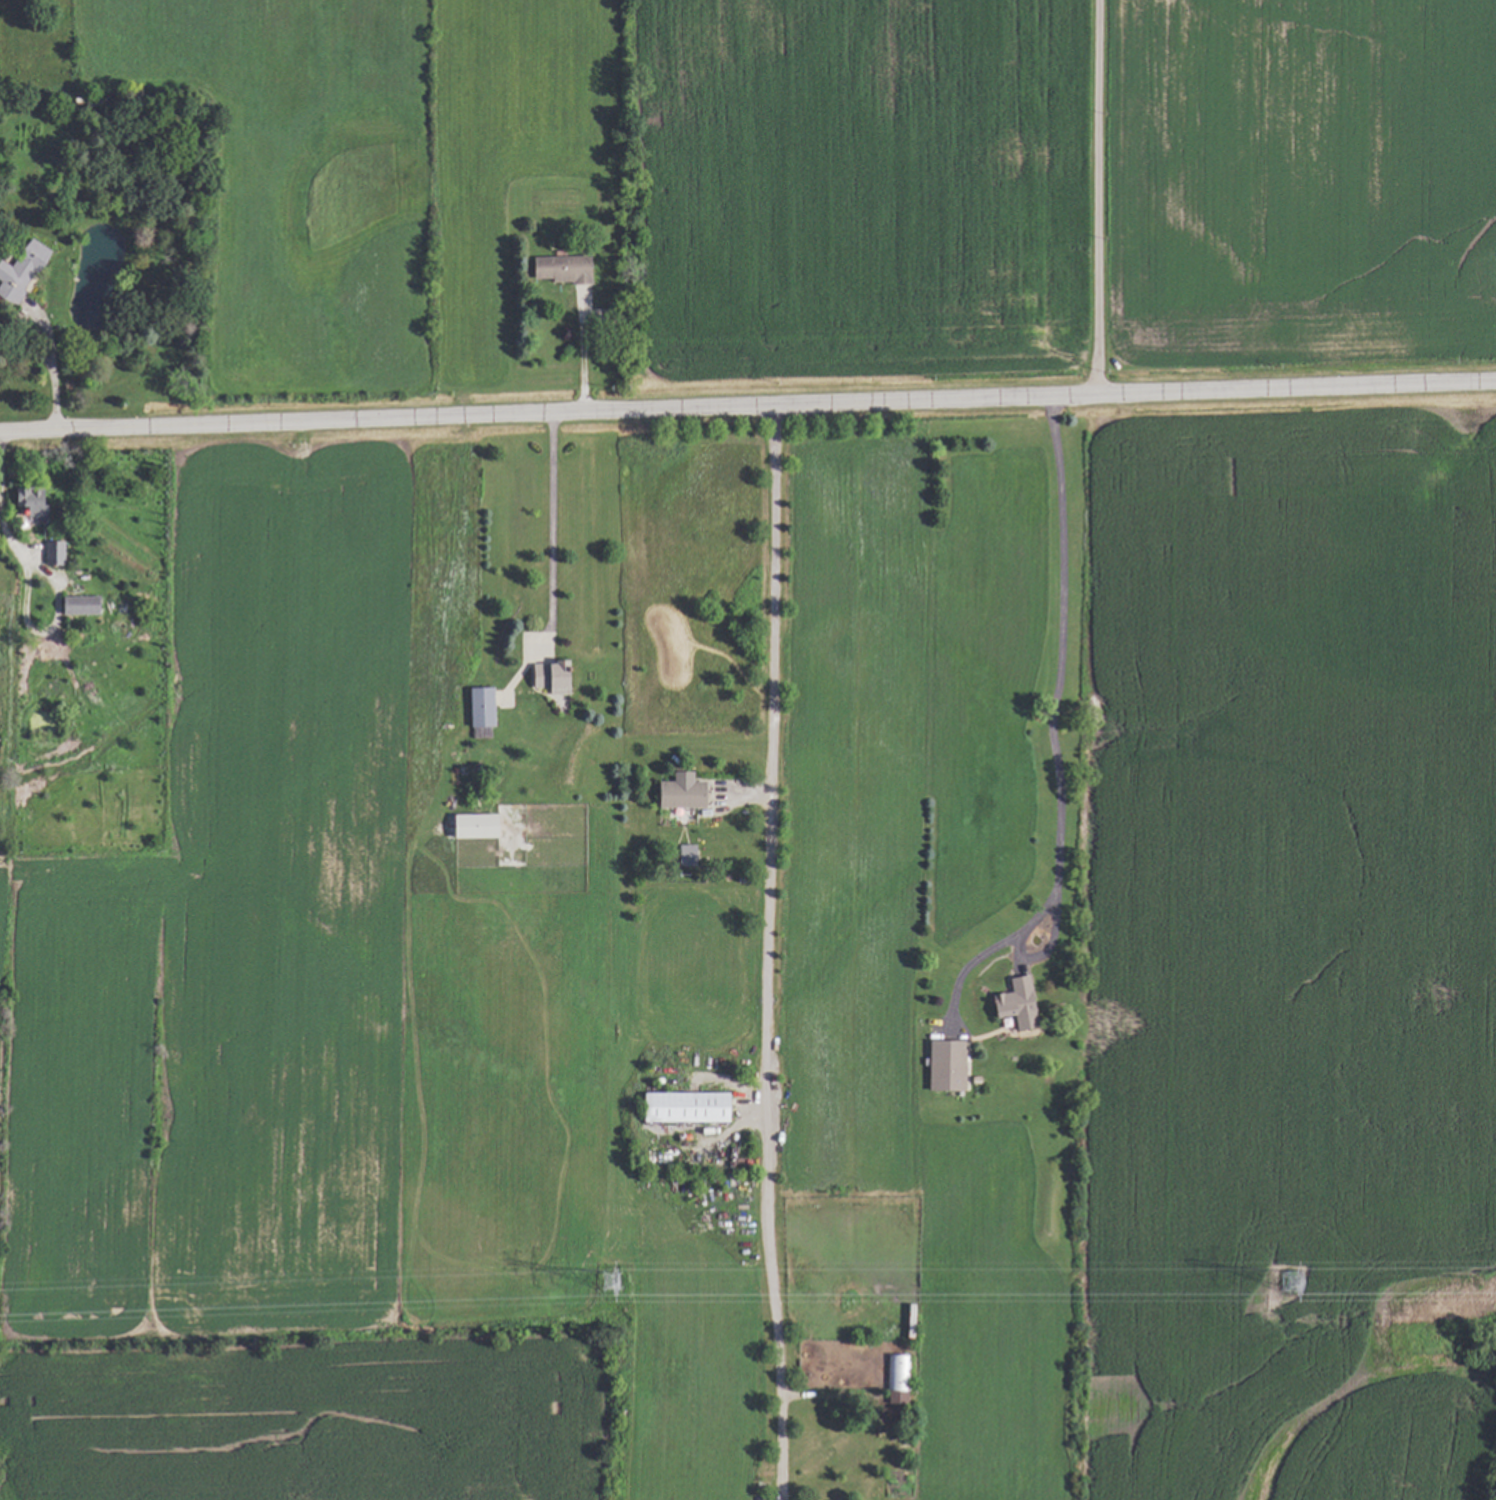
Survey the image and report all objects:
crop: (836, 179)
road: (1099, 198)
building: (559, 268)
building: (18, 270)
road: (44, 329)
road: (585, 357)
road: (747, 407)
building: (25, 501)
road: (552, 529)
building: (53, 552)
road: (42, 570)
building: (76, 605)
road: (1059, 673)
building: (548, 676)
building: (477, 706)
building: (677, 794)
building: (469, 826)
building: (681, 853)
road: (769, 953)
building: (1011, 1002)
crop: (803, 1011)
building: (942, 1066)
building: (681, 1107)
power tower: (598, 1278)
power tower: (1293, 1279)
building: (895, 1377)

